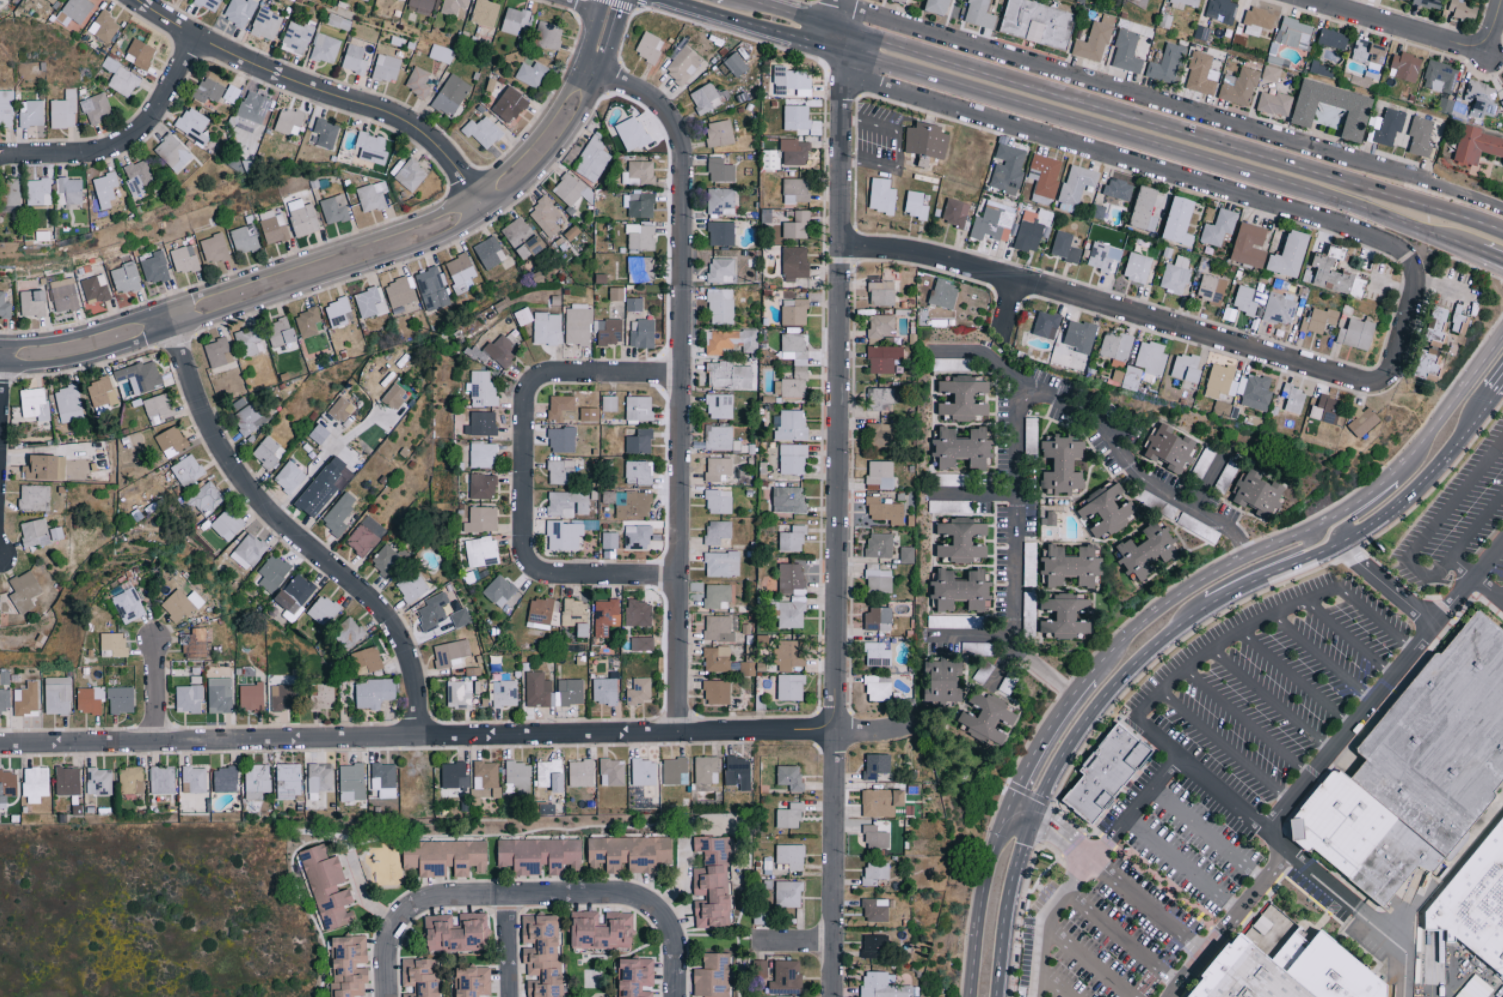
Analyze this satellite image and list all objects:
building: (366, 0)
building: (401, 0)
building: (1402, 0)
building: (52, 1)
building: (905, 1)
building: (1140, 1)
building: (1184, 3)
building: (1429, 3)
building: (208, 4)
building: (421, 6)
building: (452, 6)
road: (573, 7)
building: (940, 7)
building: (77, 9)
building: (1463, 9)
building: (1222, 10)
building: (239, 11)
building: (485, 12)
building: (979, 13)
building: (515, 20)
building: (1258, 21)
building: (1039, 22)
building: (266, 24)
building: (104, 26)
road: (1390, 27)
road: (1496, 28)
building: (1202, 32)
building: (1295, 33)
building: (548, 35)
building: (296, 38)
road: (615, 38)
building: (1333, 39)
building: (1095, 40)
building: (649, 47)
building: (324, 48)
building: (1127, 52)
building: (1370, 52)
building: (140, 53)
building: (441, 53)
building: (355, 57)
building: (682, 63)
building: (1168, 63)
building: (735, 64)
building: (1405, 66)
building: (386, 68)
building: (1321, 70)
road: (589, 71)
building: (1201, 73)
building: (531, 74)
building: (1271, 74)
building: (1440, 77)
building: (418, 82)
building: (789, 83)
building: (1239, 86)
building: (208, 90)
road: (321, 92)
building: (231, 94)
building: (451, 95)
building: (1481, 97)
building: (705, 98)
building: (1274, 103)
road: (1171, 104)
building: (1444, 104)
building: (254, 106)
building: (6, 108)
building: (96, 108)
building: (63, 110)
building: (31, 113)
road: (1128, 114)
building: (1358, 116)
building: (797, 117)
building: (288, 121)
road: (1071, 121)
road: (840, 123)
building: (193, 124)
building: (1389, 125)
building: (483, 131)
building: (325, 133)
building: (632, 133)
building: (719, 133)
building: (1421, 137)
road: (123, 141)
building: (926, 142)
building: (1477, 146)
building: (372, 148)
road: (897, 148)
building: (795, 151)
building: (173, 152)
building: (592, 158)
building: (771, 159)
road: (1132, 164)
building: (1007, 168)
building: (720, 170)
building: (638, 173)
building: (411, 175)
building: (1045, 175)
building: (138, 176)
building: (1076, 186)
building: (105, 189)
building: (570, 189)
building: (1119, 189)
building: (38, 191)
building: (69, 191)
building: (797, 191)
building: (10, 192)
building: (372, 196)
building: (882, 196)
building: (721, 201)
building: (639, 204)
building: (917, 204)
building: (334, 209)
building: (1148, 209)
building: (1097, 211)
building: (955, 212)
building: (545, 216)
building: (302, 217)
building: (993, 222)
building: (1181, 222)
building: (797, 226)
building: (273, 227)
building: (1219, 228)
building: (721, 233)
building: (640, 235)
building: (1030, 235)
building: (522, 238)
building: (244, 239)
road: (353, 244)
building: (1251, 246)
building: (1065, 247)
building: (214, 248)
building: (489, 253)
building: (1292, 255)
building: (1101, 257)
road: (1491, 257)
building: (184, 259)
building: (795, 263)
building: (154, 266)
building: (1137, 268)
building: (640, 269)
building: (722, 270)
building: (460, 273)
building: (1337, 273)
building: (1176, 275)
building: (124, 277)
road: (333, 277)
building: (600, 278)
road: (1390, 283)
road: (1441, 286)
building: (95, 289)
building: (432, 289)
building: (1212, 289)
building: (399, 292)
building: (616, 293)
building: (944, 294)
building: (64, 295)
building: (1245, 300)
building: (369, 302)
building: (33, 303)
building: (634, 304)
building: (4, 306)
building: (721, 306)
road: (1008, 308)
building: (1279, 308)
building: (337, 312)
building: (794, 312)
building: (523, 316)
building: (1319, 320)
building: (1459, 320)
building: (307, 322)
road: (1168, 324)
building: (1440, 324)
building: (577, 325)
building: (1046, 325)
building: (880, 327)
building: (546, 328)
building: (609, 331)
building: (280, 332)
building: (642, 333)
building: (1357, 334)
building: (1080, 336)
building: (247, 341)
building: (730, 341)
building: (217, 353)
road: (983, 355)
building: (883, 358)
building: (1150, 360)
building: (1429, 364)
building: (1187, 368)
building: (800, 369)
building: (729, 375)
building: (140, 376)
building: (1131, 378)
building: (1221, 381)
road: (680, 382)
road: (1498, 386)
building: (482, 389)
building: (1254, 392)
road: (1458, 392)
building: (101, 395)
building: (395, 397)
building: (964, 398)
building: (1293, 398)
building: (880, 399)
building: (34, 403)
building: (609, 403)
building: (68, 404)
building: (719, 406)
building: (562, 407)
building: (639, 408)
building: (157, 409)
building: (1327, 409)
building: (341, 410)
building: (481, 423)
building: (1364, 423)
building: (791, 426)
road: (1464, 430)
building: (320, 434)
building: (881, 435)
building: (718, 437)
building: (562, 440)
building: (171, 442)
building: (639, 442)
building: (962, 448)
building: (1172, 449)
building: (268, 452)
building: (483, 454)
building: (792, 459)
road: (321, 460)
building: (1064, 465)
building: (44, 468)
road: (1133, 468)
building: (718, 469)
building: (187, 470)
building: (561, 472)
building: (638, 472)
road: (522, 474)
building: (881, 474)
building: (289, 477)
road: (1206, 481)
building: (482, 486)
building: (324, 488)
building: (1258, 494)
building: (34, 497)
road: (975, 497)
building: (206, 498)
road: (1380, 498)
building: (788, 500)
building: (719, 501)
building: (567, 503)
building: (629, 503)
building: (950, 506)
building: (1109, 509)
building: (885, 511)
building: (339, 514)
road: (1017, 516)
building: (482, 519)
building: (1048, 520)
building: (227, 524)
road: (289, 529)
building: (717, 531)
building: (39, 533)
building: (564, 535)
building: (637, 537)
building: (364, 538)
building: (792, 539)
building: (962, 540)
building: (609, 545)
building: (879, 545)
building: (480, 551)
building: (1150, 552)
road: (1246, 554)
building: (907, 555)
road: (1410, 556)
building: (386, 560)
building: (722, 564)
building: (1073, 566)
road: (1248, 570)
building: (273, 573)
road: (1476, 579)
building: (879, 581)
road: (1467, 583)
road: (1384, 584)
building: (412, 587)
building: (960, 590)
building: (23, 591)
building: (500, 591)
building: (716, 595)
building: (295, 596)
building: (798, 598)
road: (1502, 599)
building: (128, 605)
building: (181, 605)
building: (323, 610)
road: (1202, 610)
building: (540, 611)
building: (574, 611)
building: (433, 612)
building: (638, 613)
building: (605, 616)
building: (1065, 616)
building: (459, 617)
building: (878, 619)
road: (1375, 619)
road: (835, 622)
building: (718, 629)
building: (583, 630)
building: (347, 633)
road: (977, 636)
road: (1348, 637)
building: (194, 644)
building: (642, 644)
building: (113, 645)
building: (450, 654)
building: (878, 654)
building: (789, 655)
road: (1321, 657)
building: (716, 659)
building: (366, 660)
building: (746, 668)
road: (1005, 669)
road: (1044, 672)
road: (1296, 679)
building: (944, 681)
building: (790, 687)
building: (879, 689)
road: (155, 691)
building: (552, 691)
building: (605, 691)
building: (639, 691)
building: (717, 692)
building: (373, 693)
building: (504, 693)
road: (1157, 693)
building: (57, 695)
building: (219, 695)
building: (322, 696)
building: (458, 696)
building: (251, 697)
building: (283, 697)
building: (26, 699)
building: (188, 699)
building: (89, 700)
building: (121, 700)
road: (1271, 700)
building: (4, 701)
building: (989, 718)
road: (1248, 724)
road: (1349, 729)
road: (454, 734)
road: (1043, 738)
building: (1441, 742)
road: (1225, 747)
building: (876, 765)
building: (706, 769)
building: (675, 770)
building: (612, 771)
building: (644, 771)
building: (581, 772)
building: (738, 772)
building: (1104, 772)
building: (550, 774)
building: (454, 775)
building: (517, 775)
building: (791, 777)
building: (225, 778)
building: (485, 778)
building: (194, 779)
building: (319, 779)
building: (384, 779)
building: (67, 780)
building: (131, 780)
building: (162, 780)
building: (288, 780)
building: (99, 781)
building: (256, 781)
building: (352, 782)
building: (35, 783)
building: (7, 786)
road: (1150, 786)
building: (649, 798)
building: (882, 801)
traffic signals: (1007, 808)
road: (1019, 813)
building: (790, 816)
traffic signals: (1032, 819)
road: (1206, 834)
building: (876, 836)
road: (1062, 836)
building: (1359, 836)
road: (1107, 838)
road: (1277, 842)
building: (630, 852)
building: (539, 854)
building: (791, 855)
building: (445, 856)
road: (1181, 864)
building: (875, 872)
road: (1078, 875)
road: (1319, 878)
building: (712, 882)
building: (327, 887)
building: (788, 893)
road: (367, 900)
road: (979, 900)
road: (1246, 901)
road: (493, 903)
road: (1147, 905)
road: (1006, 906)
building: (876, 909)
building: (1466, 913)
building: (603, 930)
road: (669, 931)
building: (458, 932)
road: (1122, 937)
road: (1038, 939)
road: (794, 944)
building: (874, 945)
road: (1399, 949)
road: (511, 950)
building: (542, 955)
road: (1084, 960)
building: (349, 965)
road: (677, 972)
road: (1186, 974)
building: (713, 976)
building: (1249, 976)
building: (421, 977)
building: (638, 977)
building: (786, 977)
building: (473, 981)
road: (1053, 981)
building: (881, 985)
building: (1474, 988)

